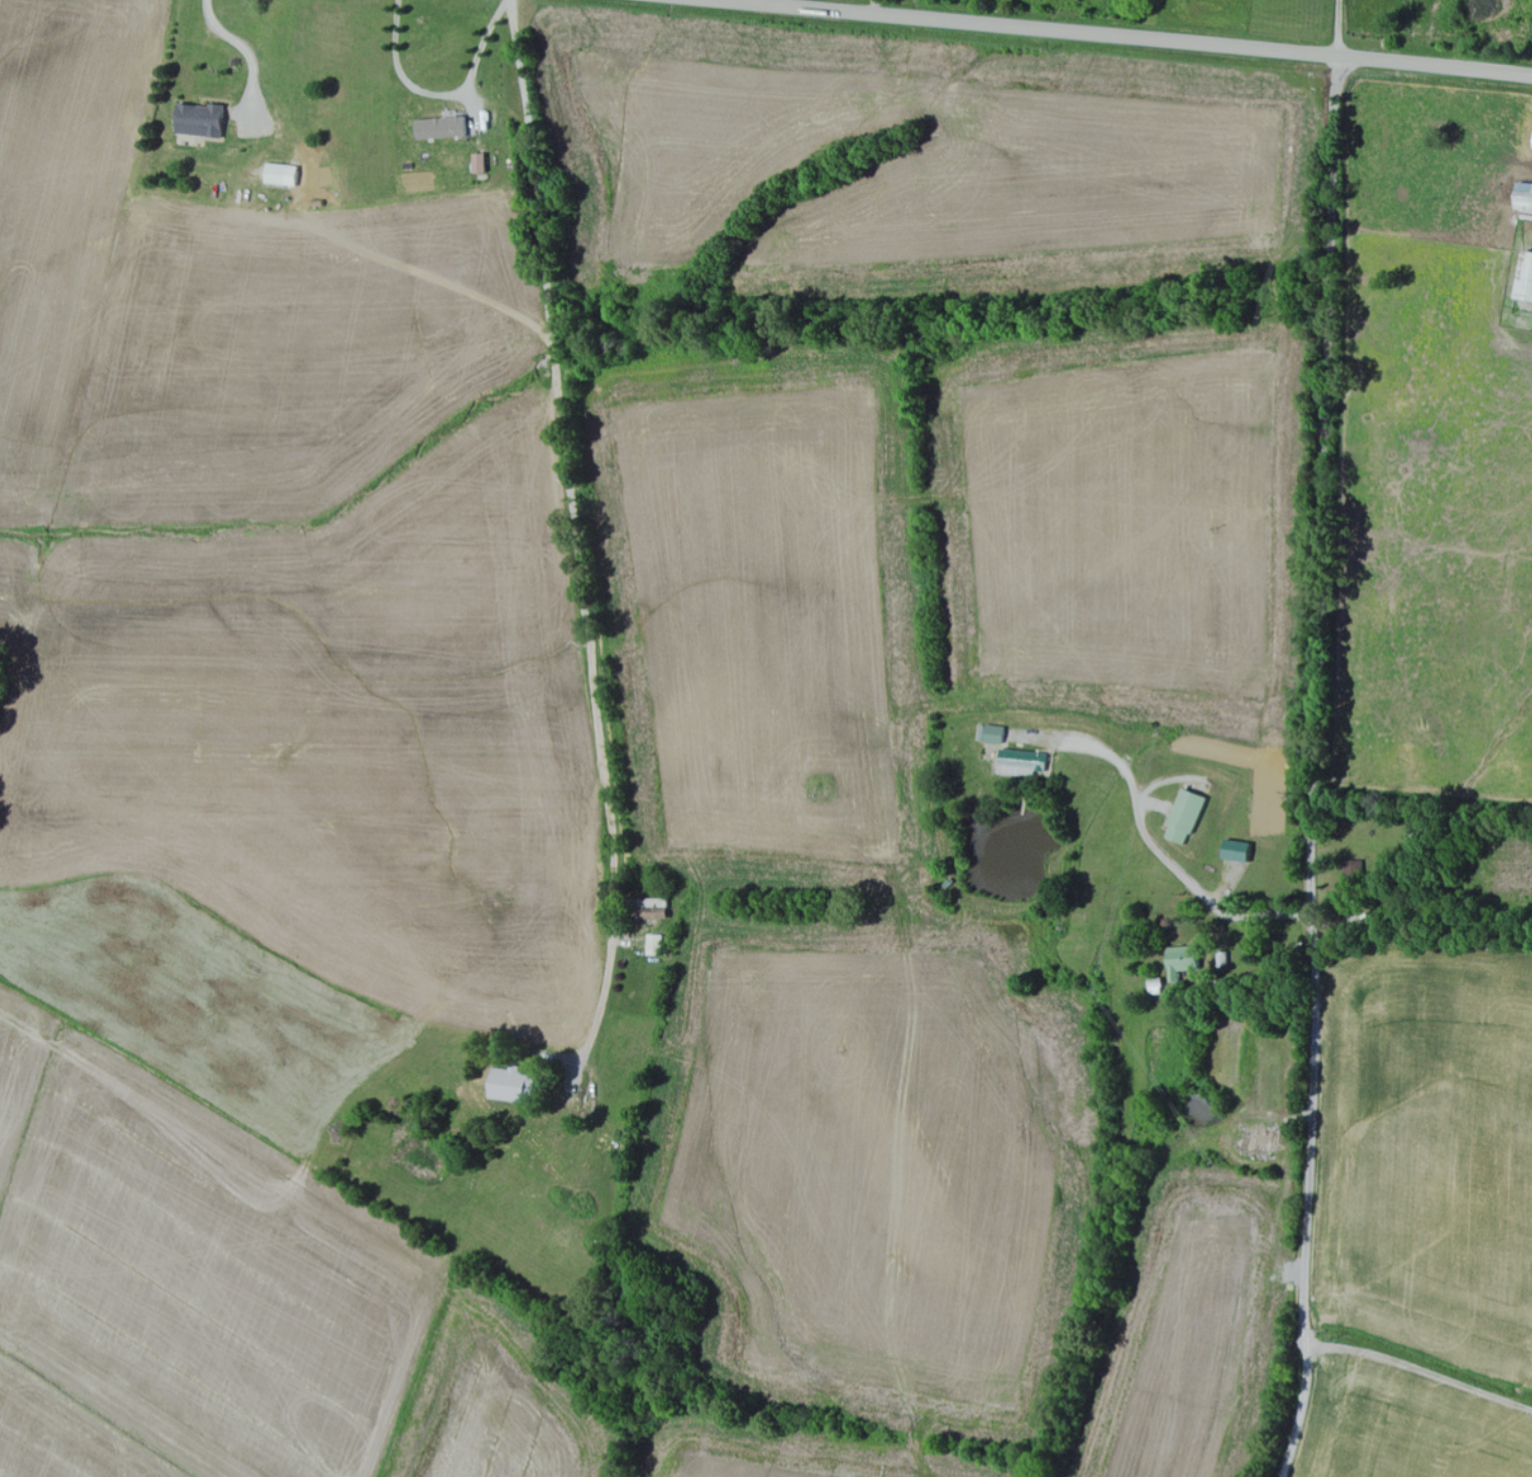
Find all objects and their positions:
road: (1121, 37)
building: (205, 121)
building: (446, 129)
building: (484, 164)
building: (286, 176)
building: (1527, 198)
building: (1528, 280)
road: (584, 571)
building: (998, 734)
building: (1028, 760)
road: (1313, 768)
building: (1190, 816)
building: (1241, 851)
building: (1356, 877)
building: (659, 909)
building: (659, 945)
building: (1186, 961)
building: (518, 1086)
building: (1264, 1141)
road: (1419, 1401)

